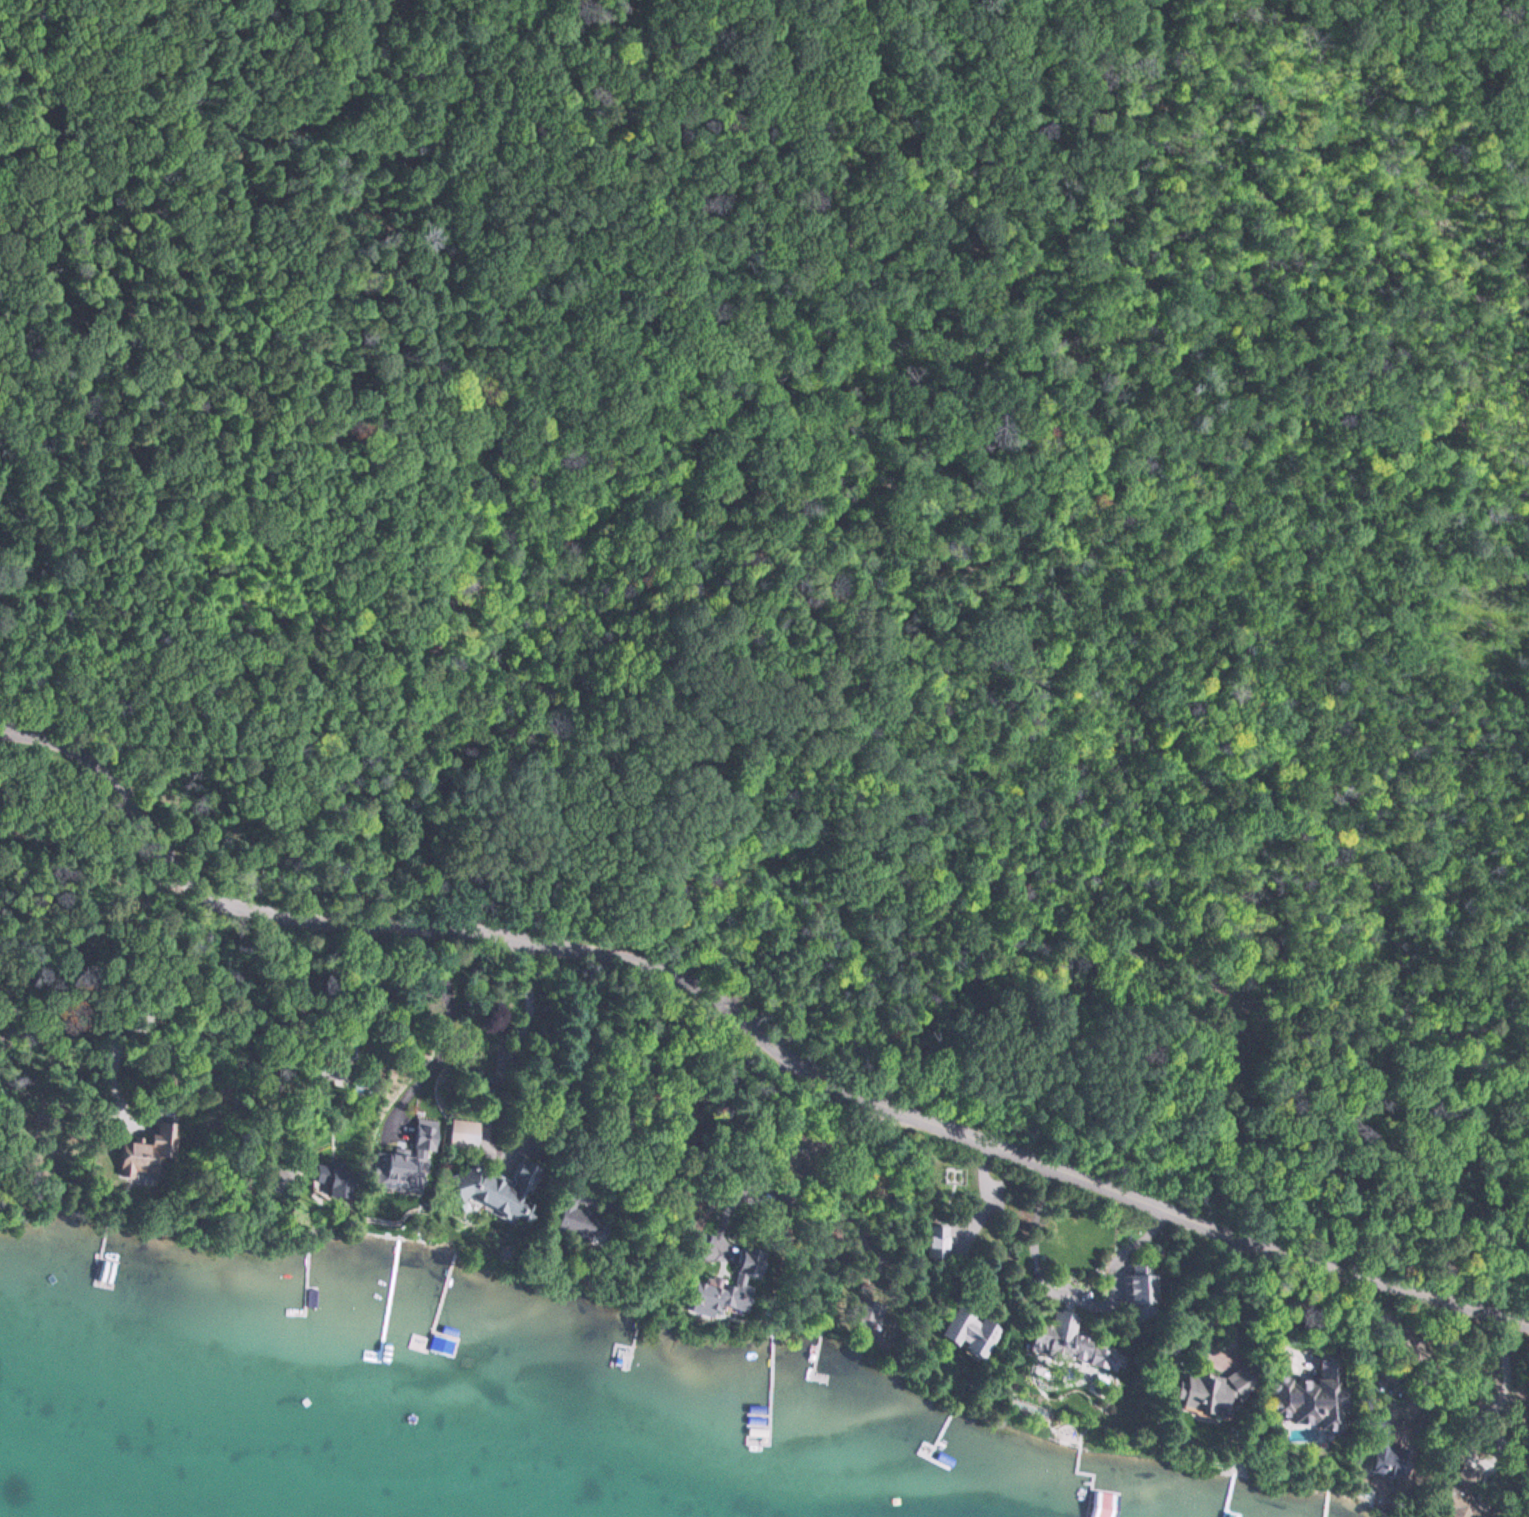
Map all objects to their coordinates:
road: (1450, 67)
road: (636, 452)
road: (743, 1029)
building: (147, 1154)
building: (332, 1178)
building: (499, 1189)
building: (578, 1220)
building: (934, 1242)
building: (1139, 1295)
building: (715, 1297)
building: (863, 1307)
building: (968, 1332)
building: (1068, 1340)
building: (1210, 1392)
building: (1303, 1398)
building: (1384, 1464)

